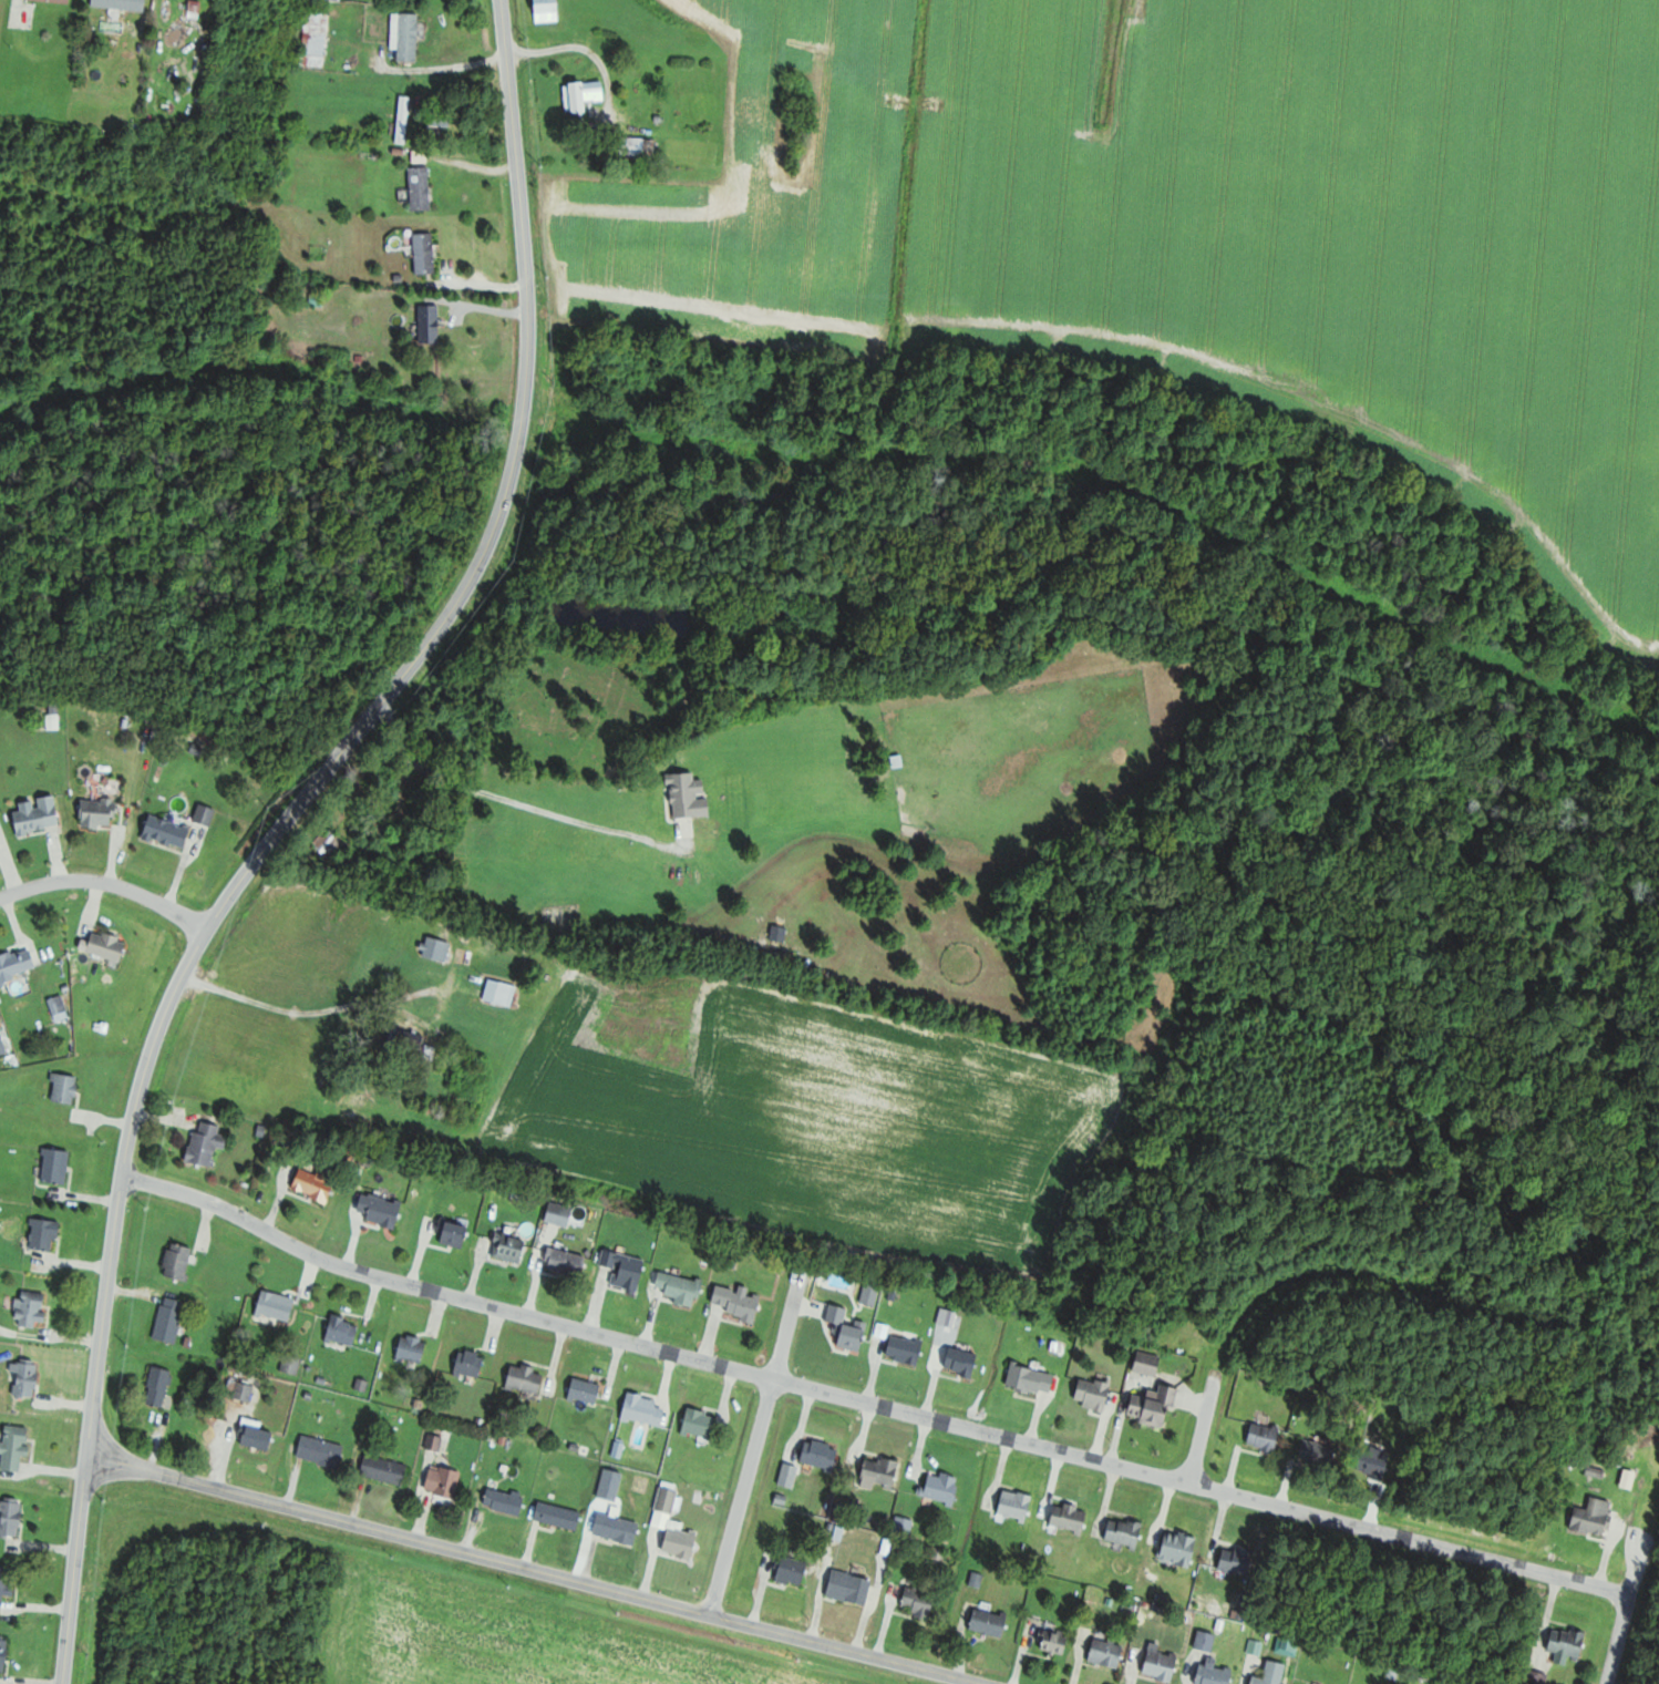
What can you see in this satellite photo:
building: (50, 0)
building: (341, 0)
building: (122, 4)
building: (548, 10)
building: (316, 35)
building: (408, 35)
road: (576, 48)
building: (241, 95)
building: (584, 95)
building: (404, 119)
building: (442, 125)
building: (646, 147)
building: (426, 254)
building: (431, 325)
road: (245, 524)
building: (100, 811)
building: (206, 812)
building: (40, 814)
road: (285, 826)
building: (168, 830)
building: (381, 832)
building: (336, 846)
road: (109, 883)
building: (109, 945)
building: (437, 947)
building: (18, 962)
building: (501, 992)
building: (60, 1007)
road: (316, 1010)
building: (65, 1087)
building: (207, 1142)
building: (56, 1166)
building: (315, 1184)
building: (381, 1209)
building: (561, 1213)
building: (454, 1233)
building: (45, 1234)
building: (512, 1247)
building: (179, 1261)
building: (567, 1262)
building: (627, 1270)
building: (682, 1287)
building: (873, 1293)
building: (278, 1305)
building: (745, 1305)
building: (33, 1307)
building: (171, 1318)
building: (848, 1328)
building: (344, 1331)
building: (413, 1348)
building: (907, 1348)
building: (964, 1360)
building: (471, 1363)
building: (527, 1377)
building: (1032, 1377)
building: (27, 1378)
building: (159, 1386)
building: (586, 1389)
building: (245, 1390)
building: (1094, 1393)
building: (1156, 1405)
building: (645, 1408)
road: (864, 1411)
building: (701, 1421)
building: (257, 1436)
building: (1265, 1436)
building: (16, 1446)
building: (322, 1450)
building: (1318, 1451)
building: (822, 1454)
building: (385, 1468)
building: (1597, 1471)
building: (882, 1472)
building: (790, 1475)
building: (444, 1480)
building: (611, 1483)
building: (942, 1487)
building: (506, 1500)
road: (745, 1501)
building: (1017, 1505)
building: (559, 1514)
building: (11, 1517)
building: (1071, 1517)
building: (1594, 1518)
road: (1422, 1520)
building: (674, 1526)
building: (618, 1528)
building: (1125, 1532)
building: (1181, 1548)
building: (1239, 1560)
building: (793, 1570)
road: (530, 1571)
building: (7, 1582)
building: (852, 1587)
building: (920, 1601)
building: (990, 1622)
building: (1207, 1640)
building: (1055, 1641)
building: (1569, 1642)
building: (1109, 1652)
building: (4, 1654)
building: (1162, 1663)
building: (1217, 1673)
building: (1276, 1673)

